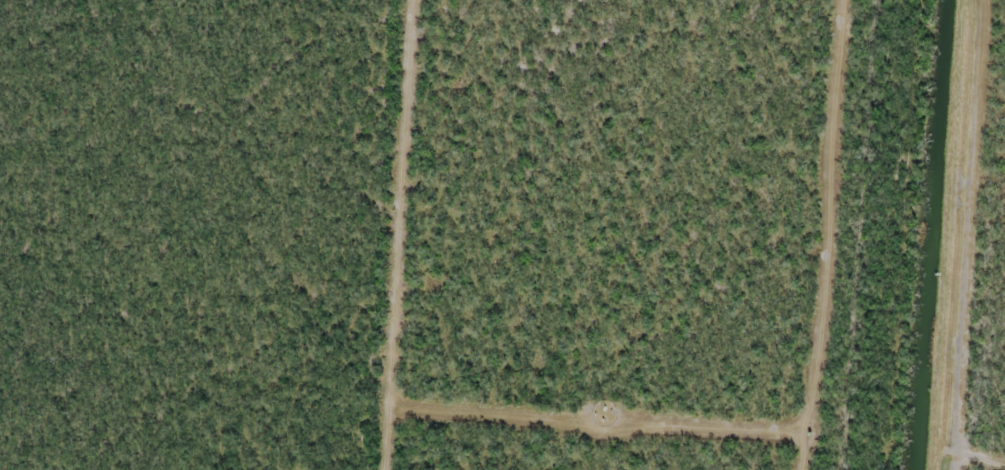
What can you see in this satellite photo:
road: (413, 234)

